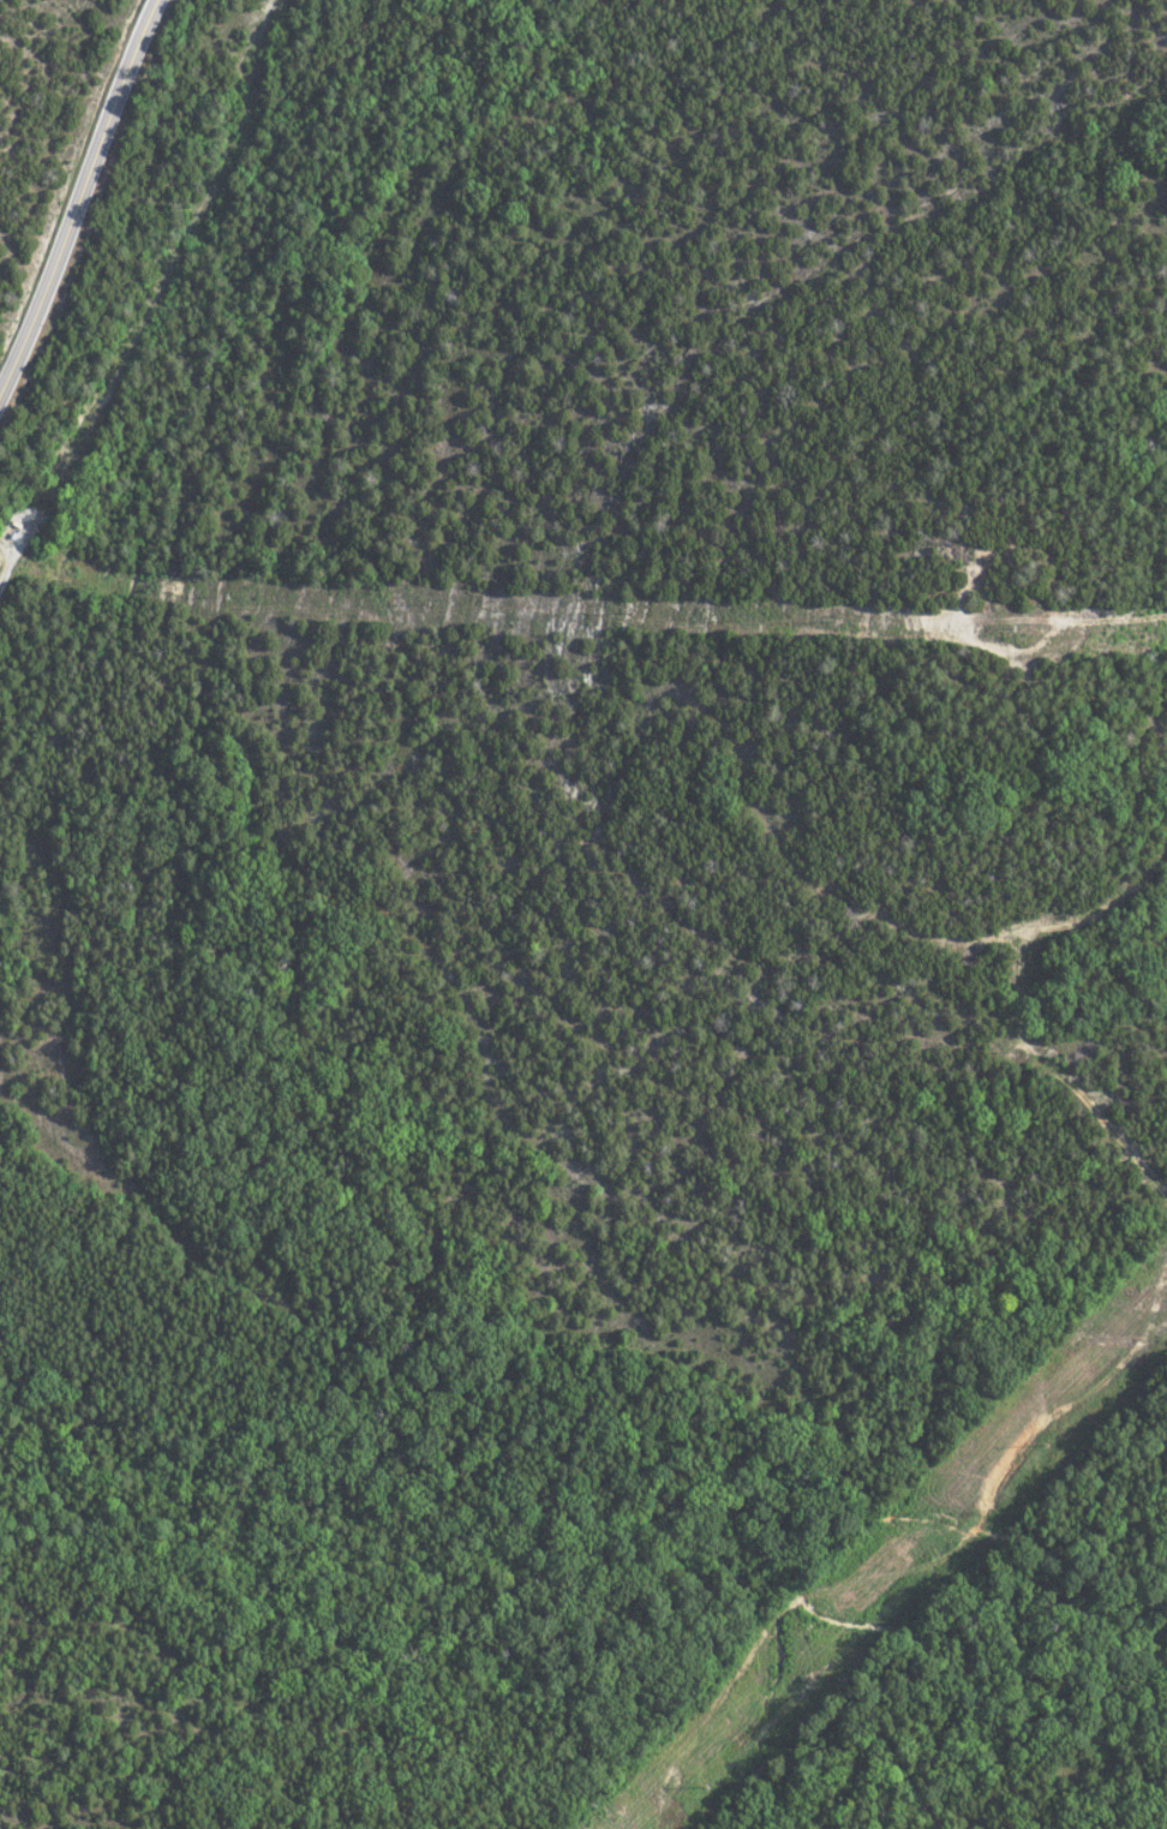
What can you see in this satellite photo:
road: (80, 192)

